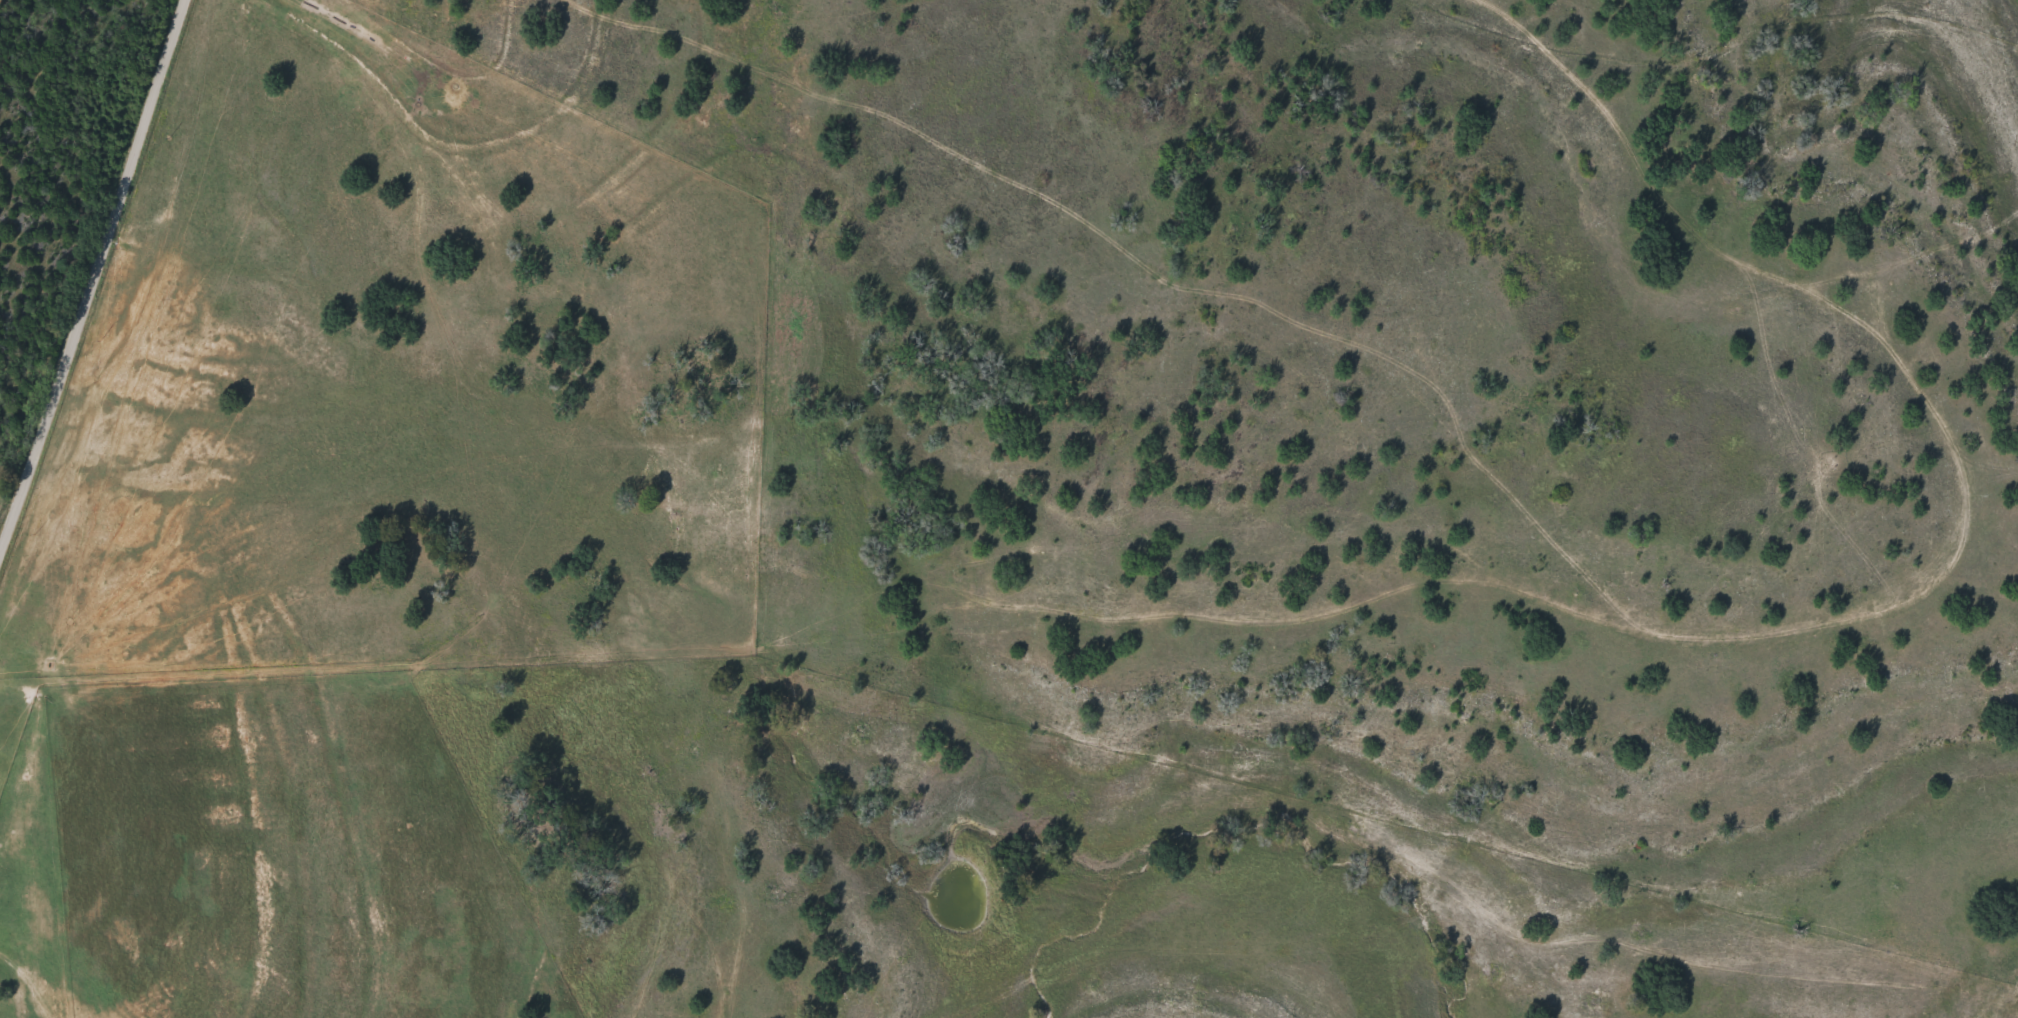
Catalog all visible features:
road: (89, 263)

